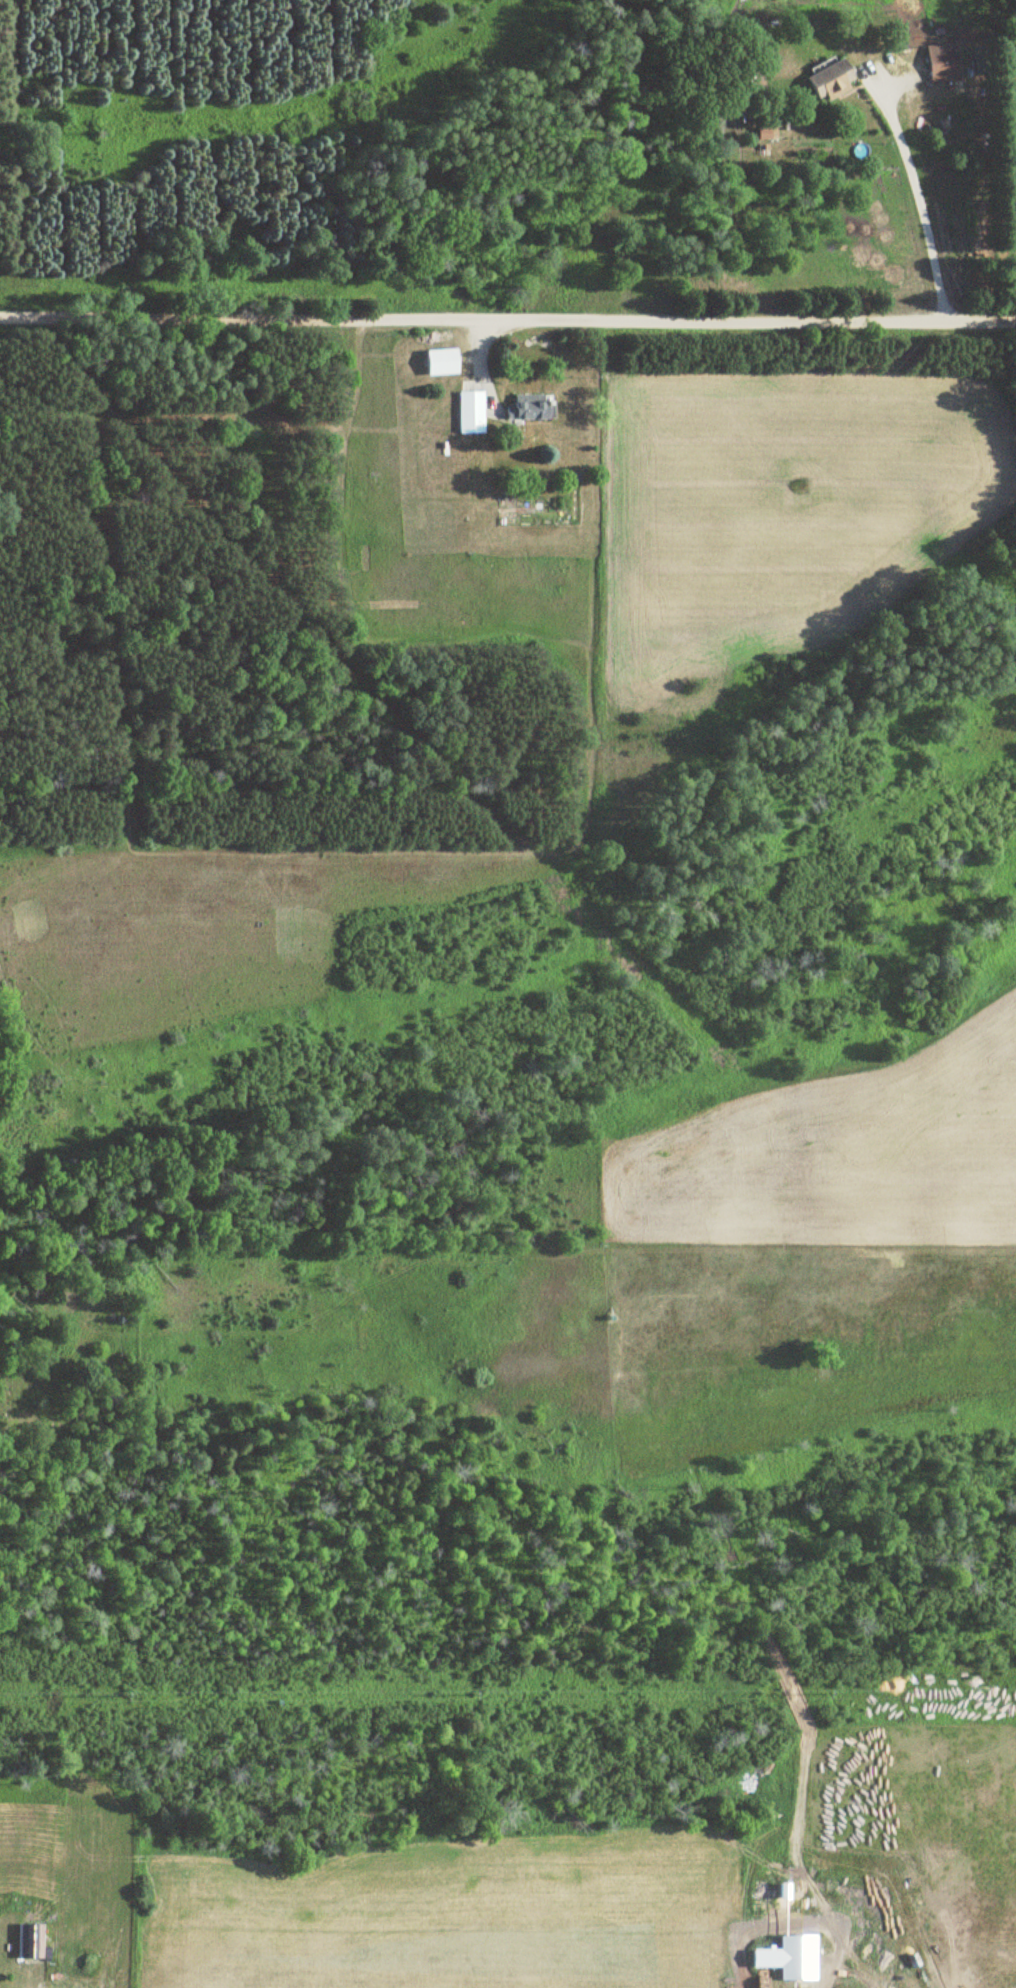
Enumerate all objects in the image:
building: (935, 59)
building: (823, 80)
road: (913, 197)
road: (746, 318)
road: (238, 320)
building: (434, 362)
building: (524, 407)
building: (466, 412)
building: (26, 1940)
building: (804, 1956)

